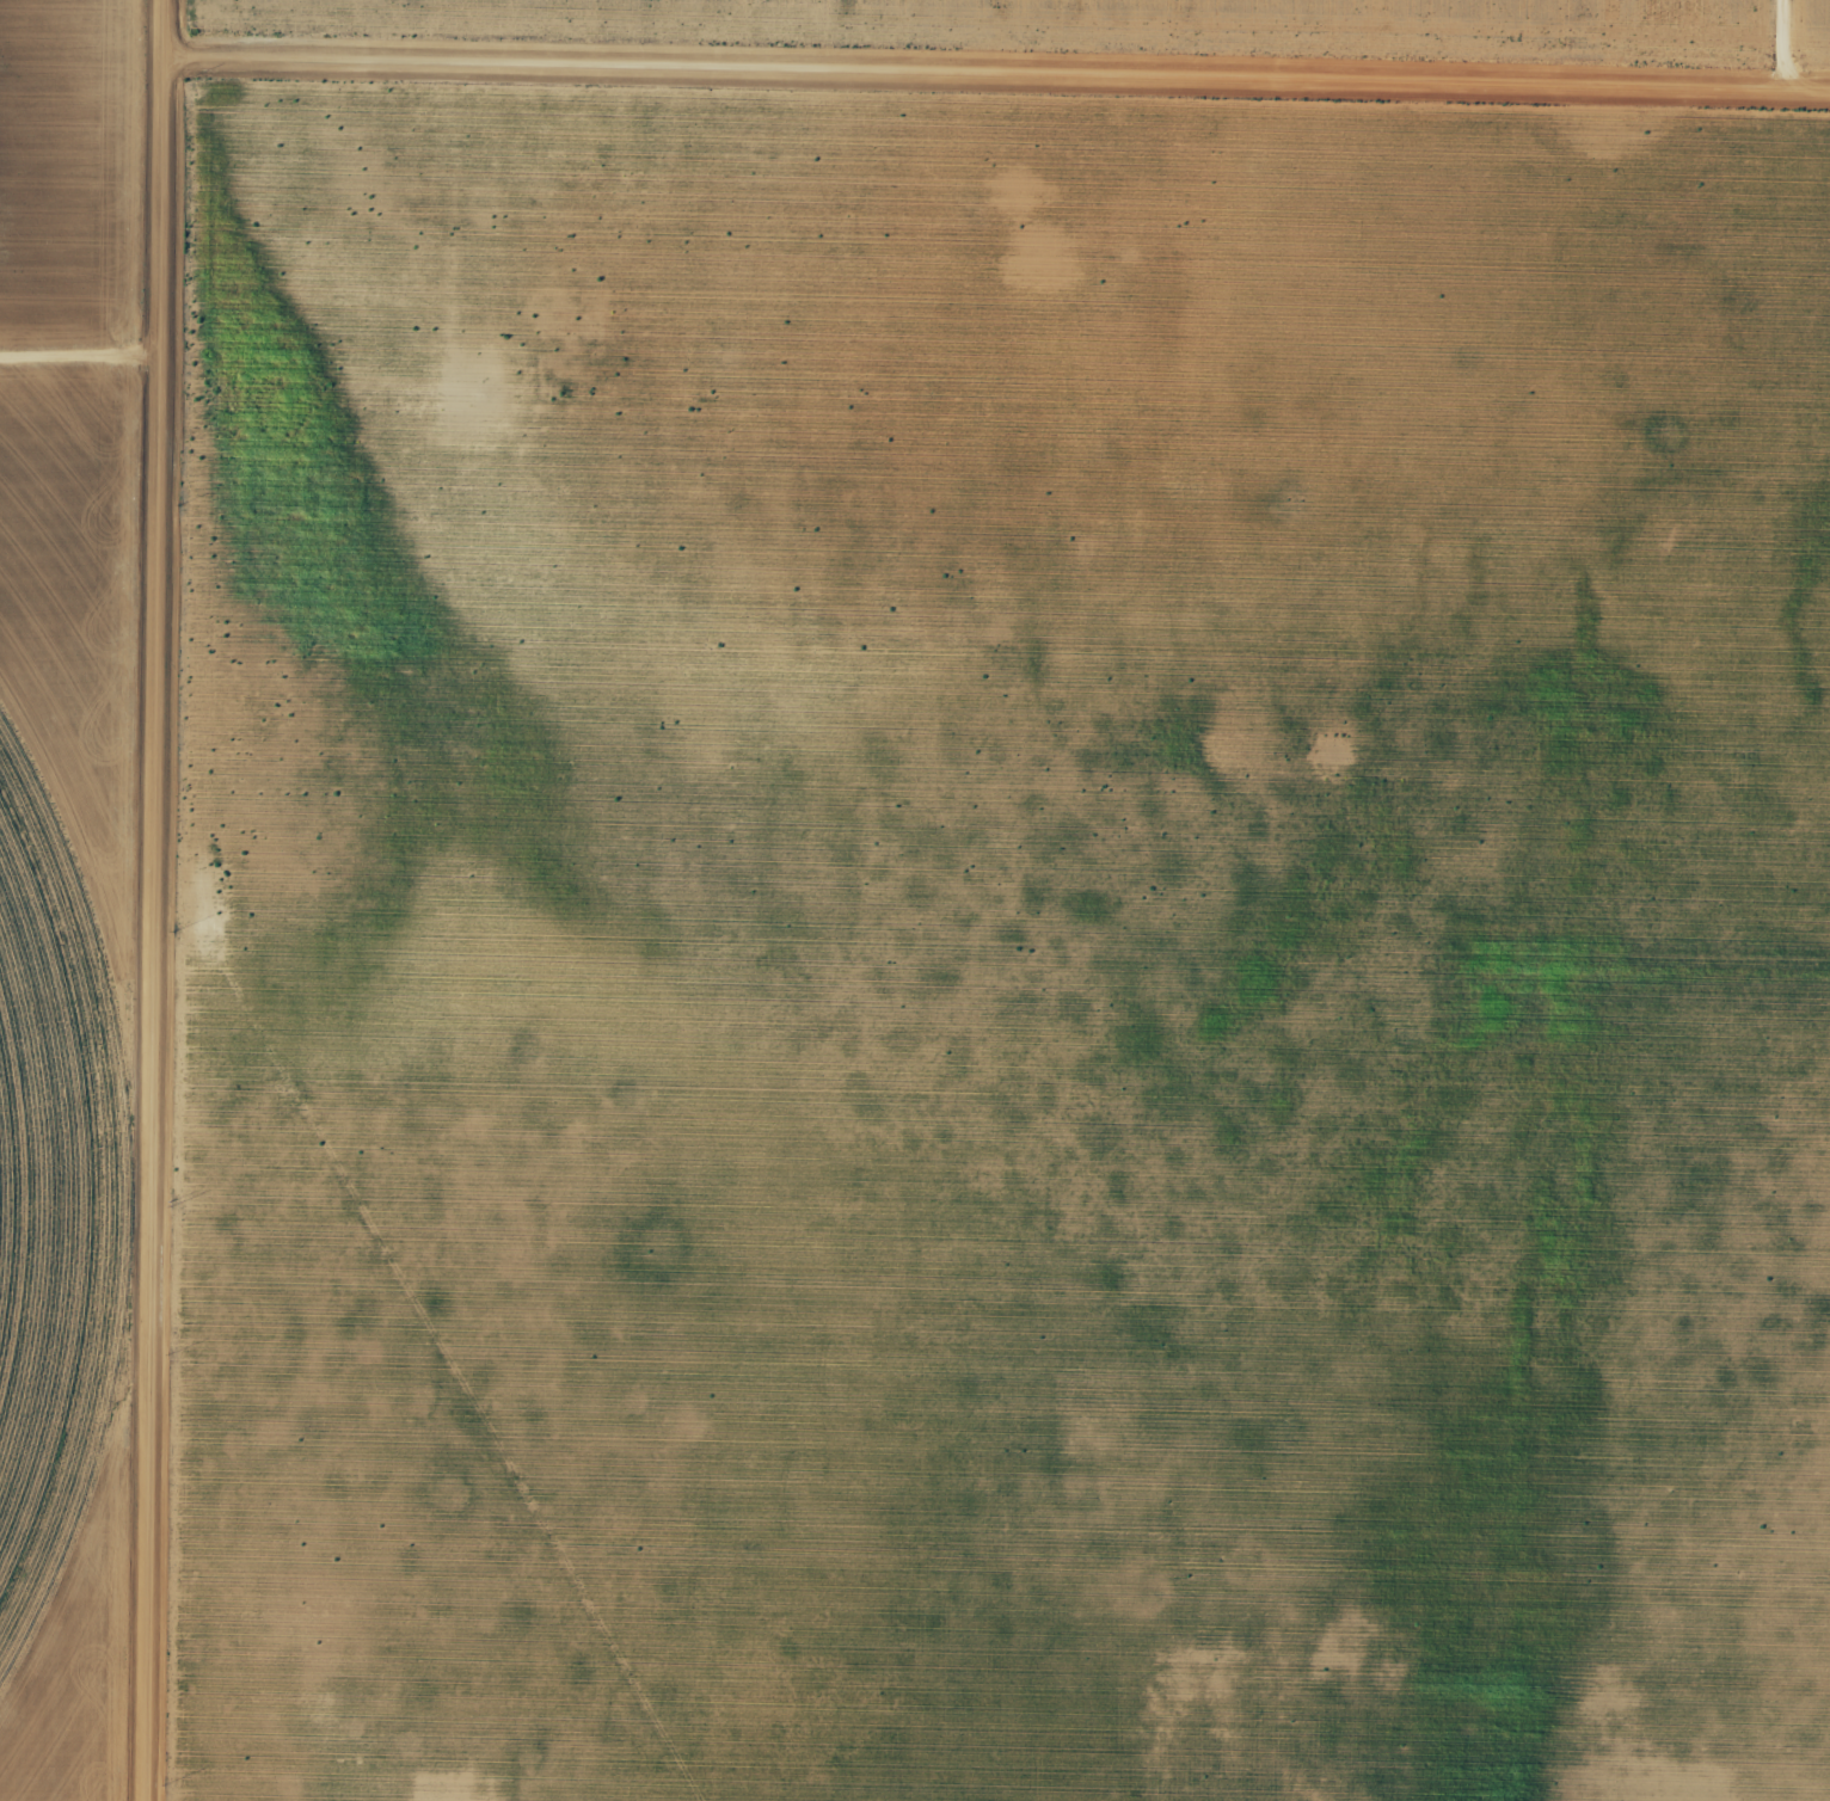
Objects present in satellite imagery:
road: (997, 96)
road: (158, 900)

